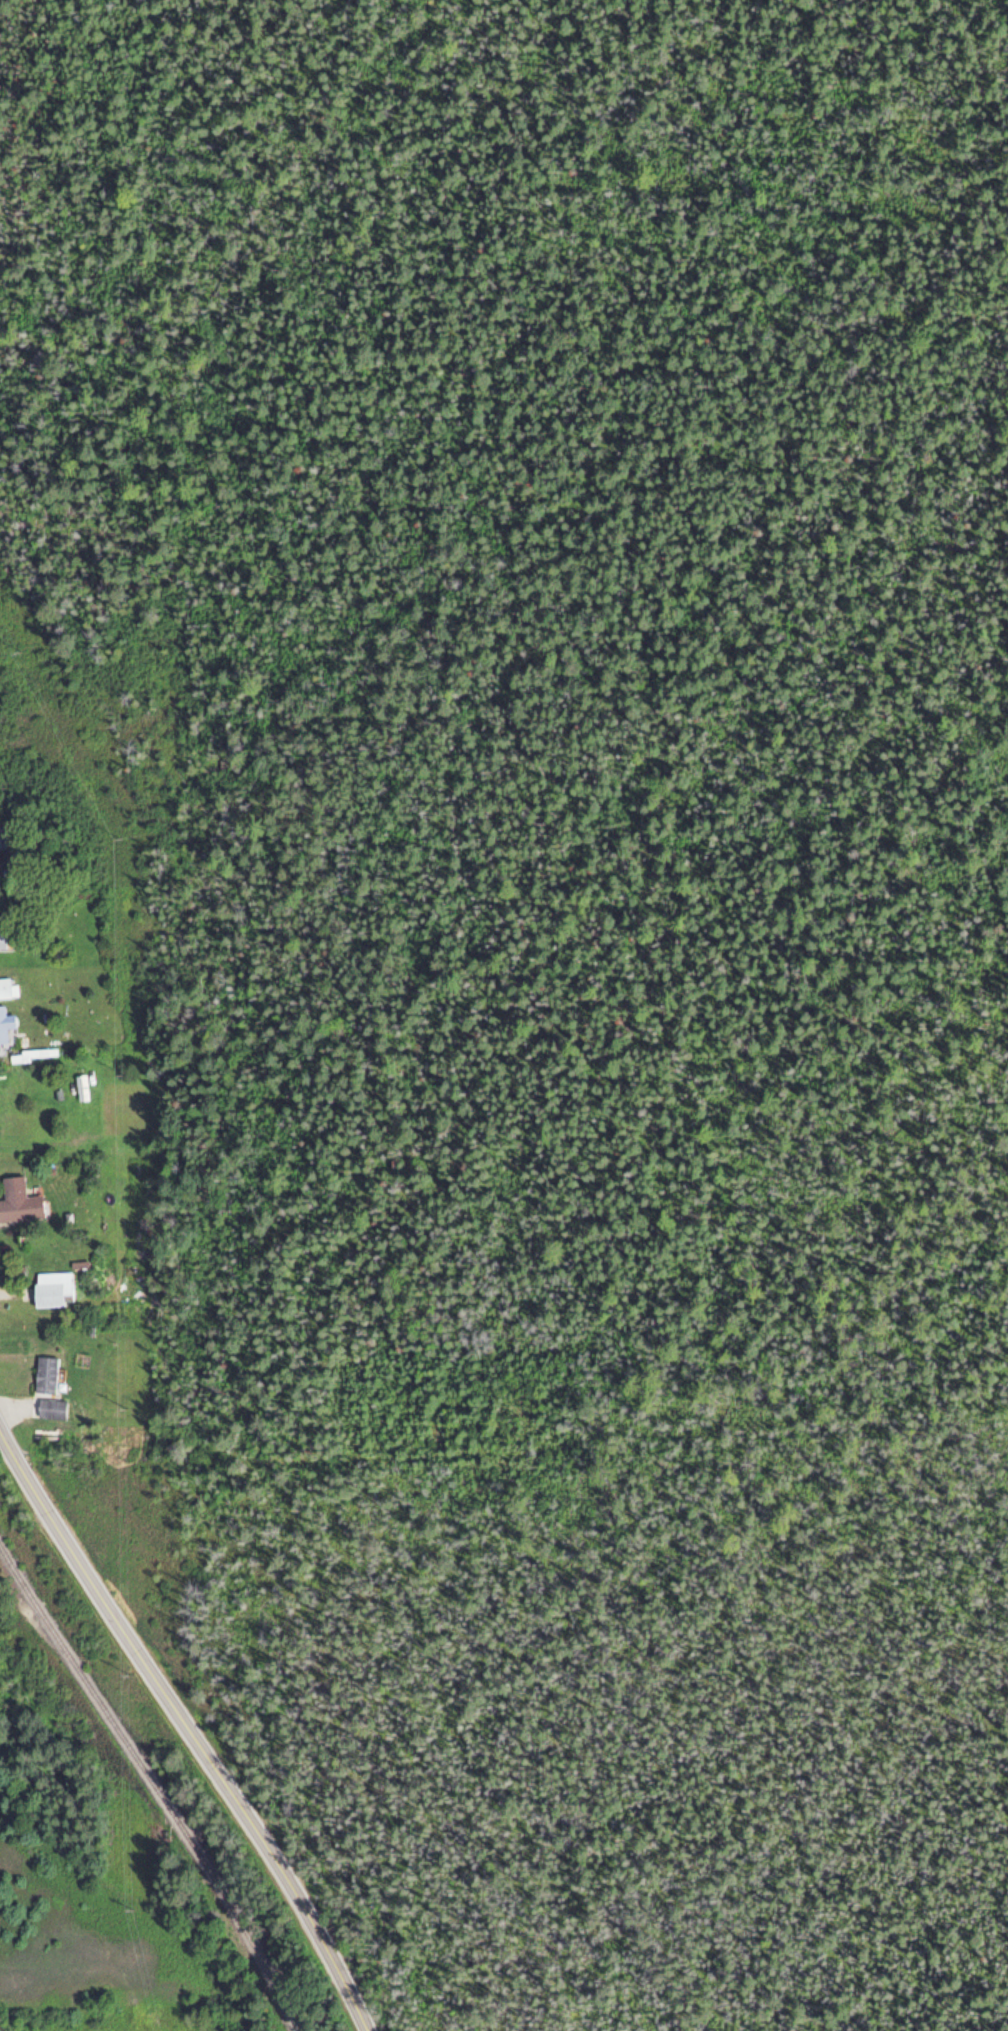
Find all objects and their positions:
building: (3, 841)
building: (8, 936)
building: (5, 986)
building: (5, 1021)
building: (82, 1080)
building: (18, 1199)
building: (0, 1248)
building: (52, 1287)
building: (45, 1373)
building: (50, 1406)
road: (188, 1729)
railway: (152, 1783)

